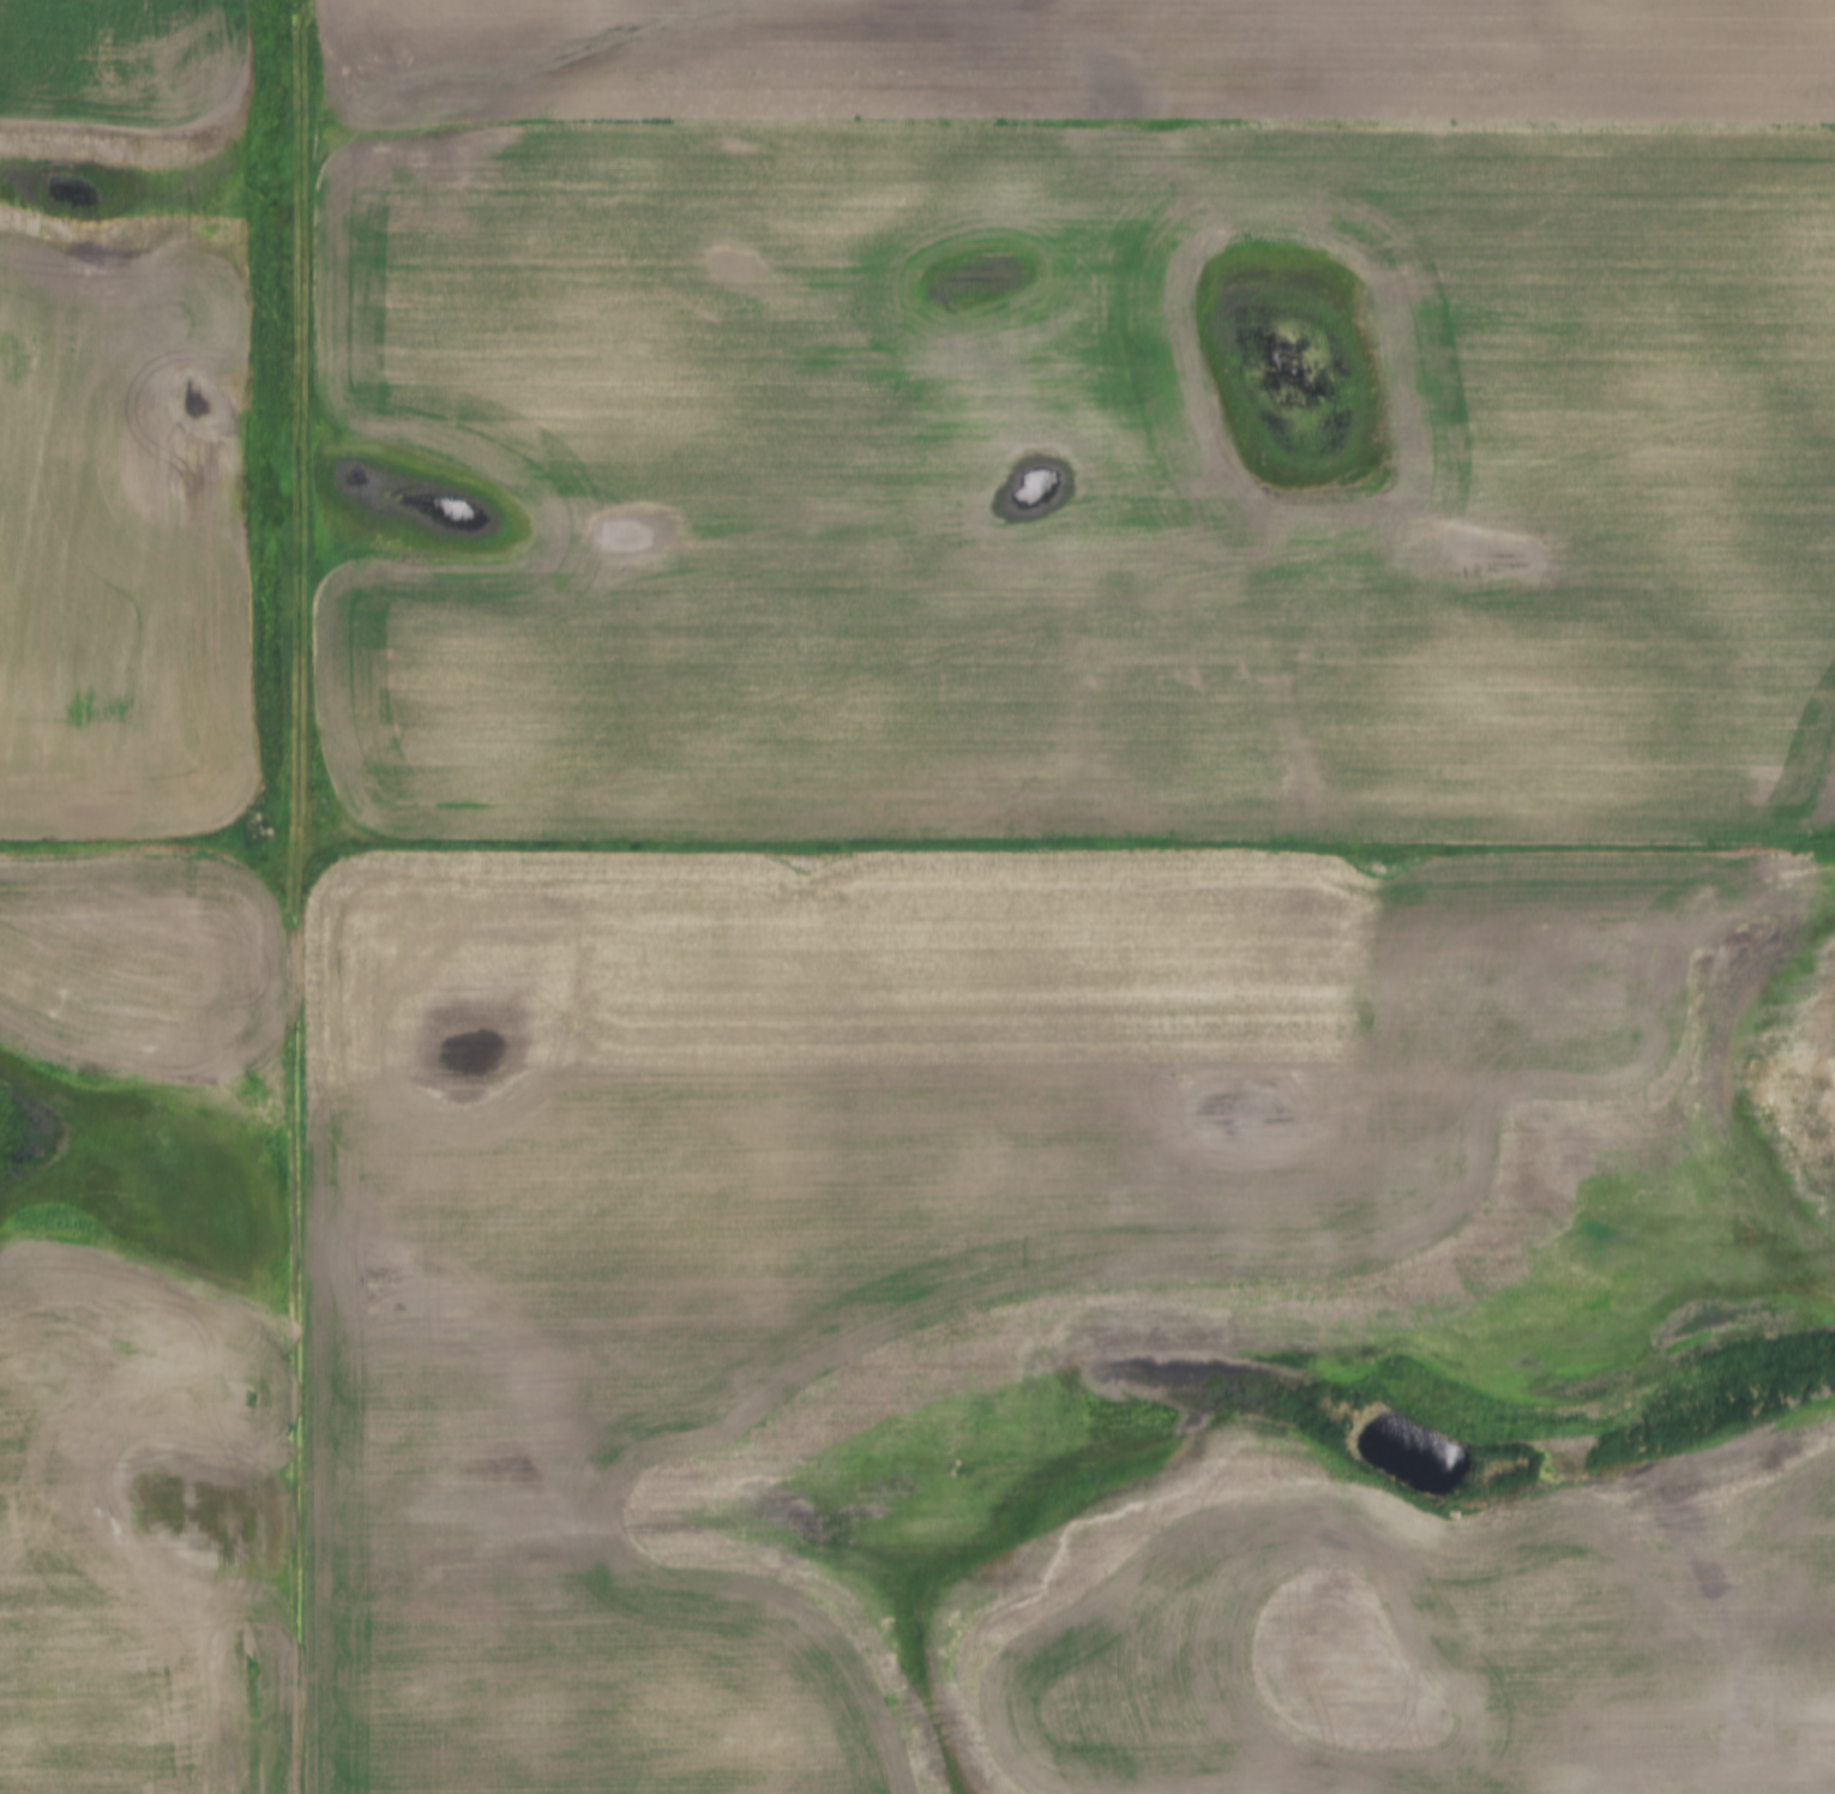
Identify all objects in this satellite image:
road: (916, 839)
road: (297, 897)

